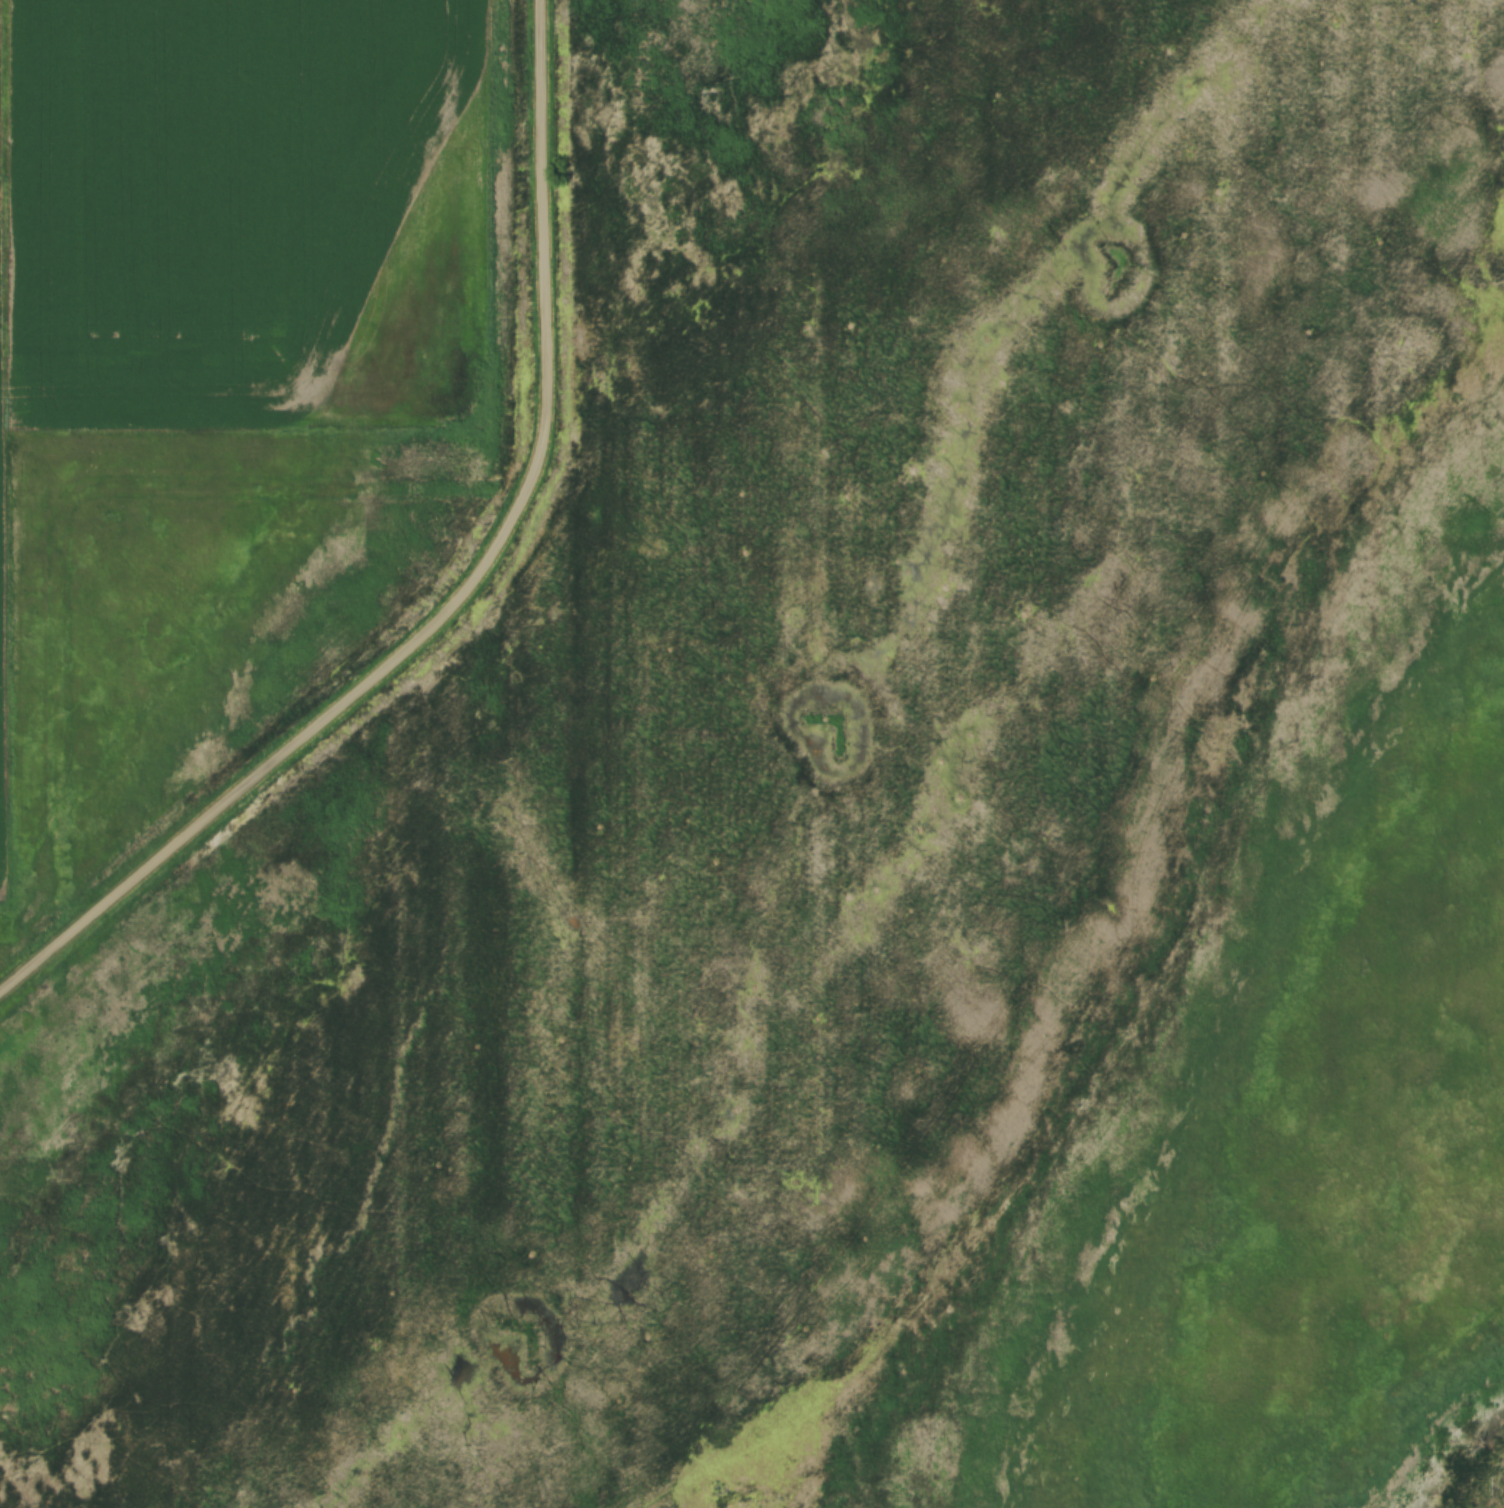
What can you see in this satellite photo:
road: (453, 586)

